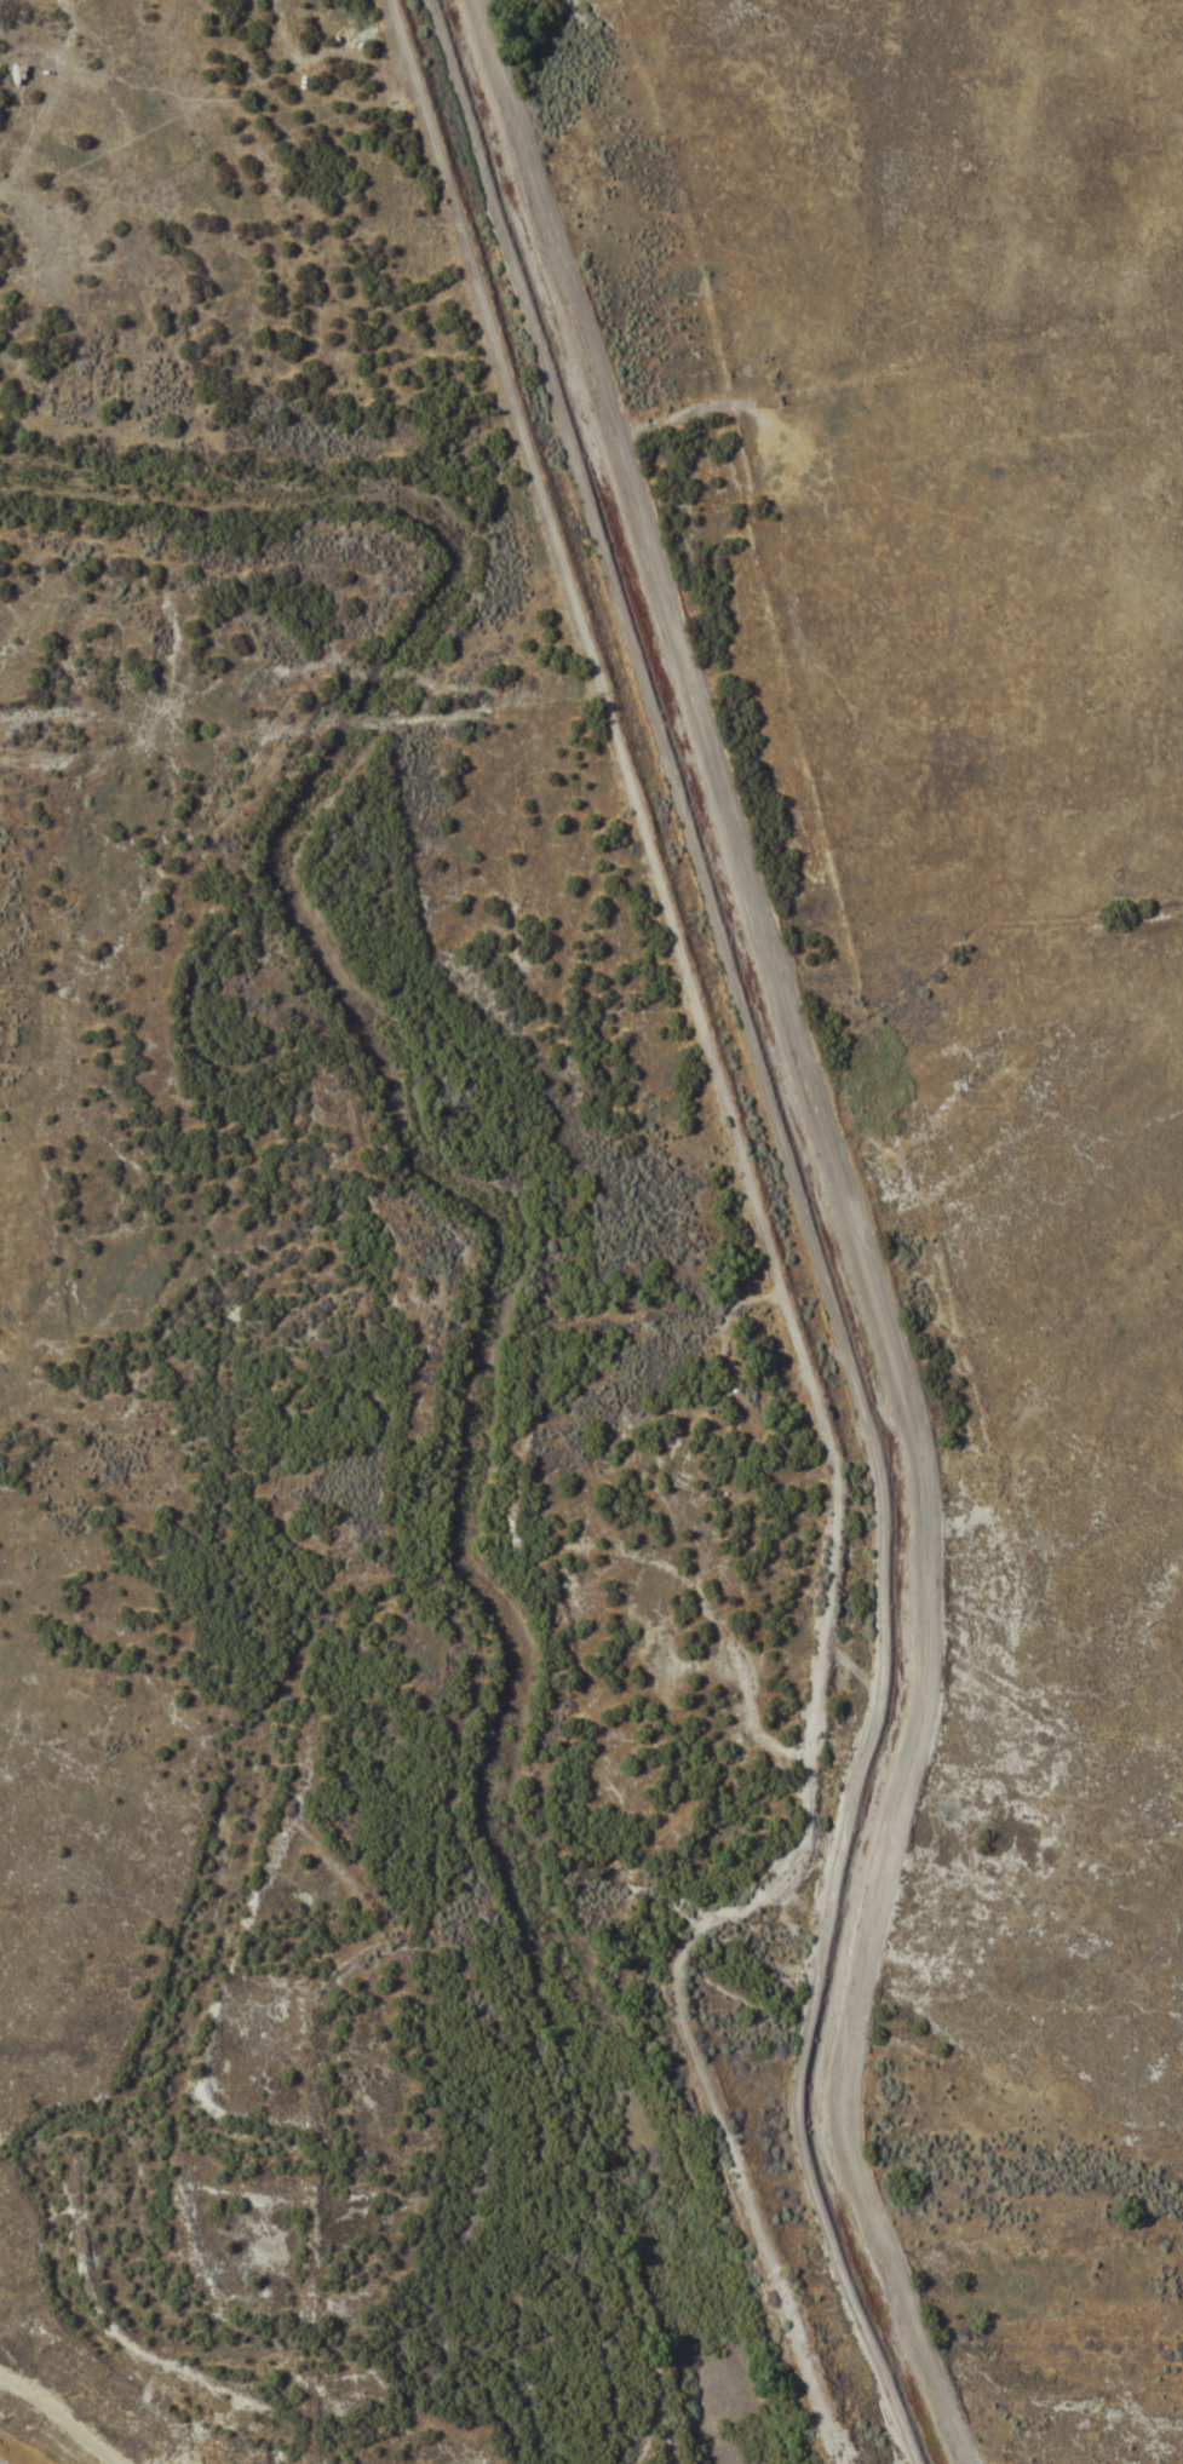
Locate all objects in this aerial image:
road: (415, 150)
road: (64, 2424)

